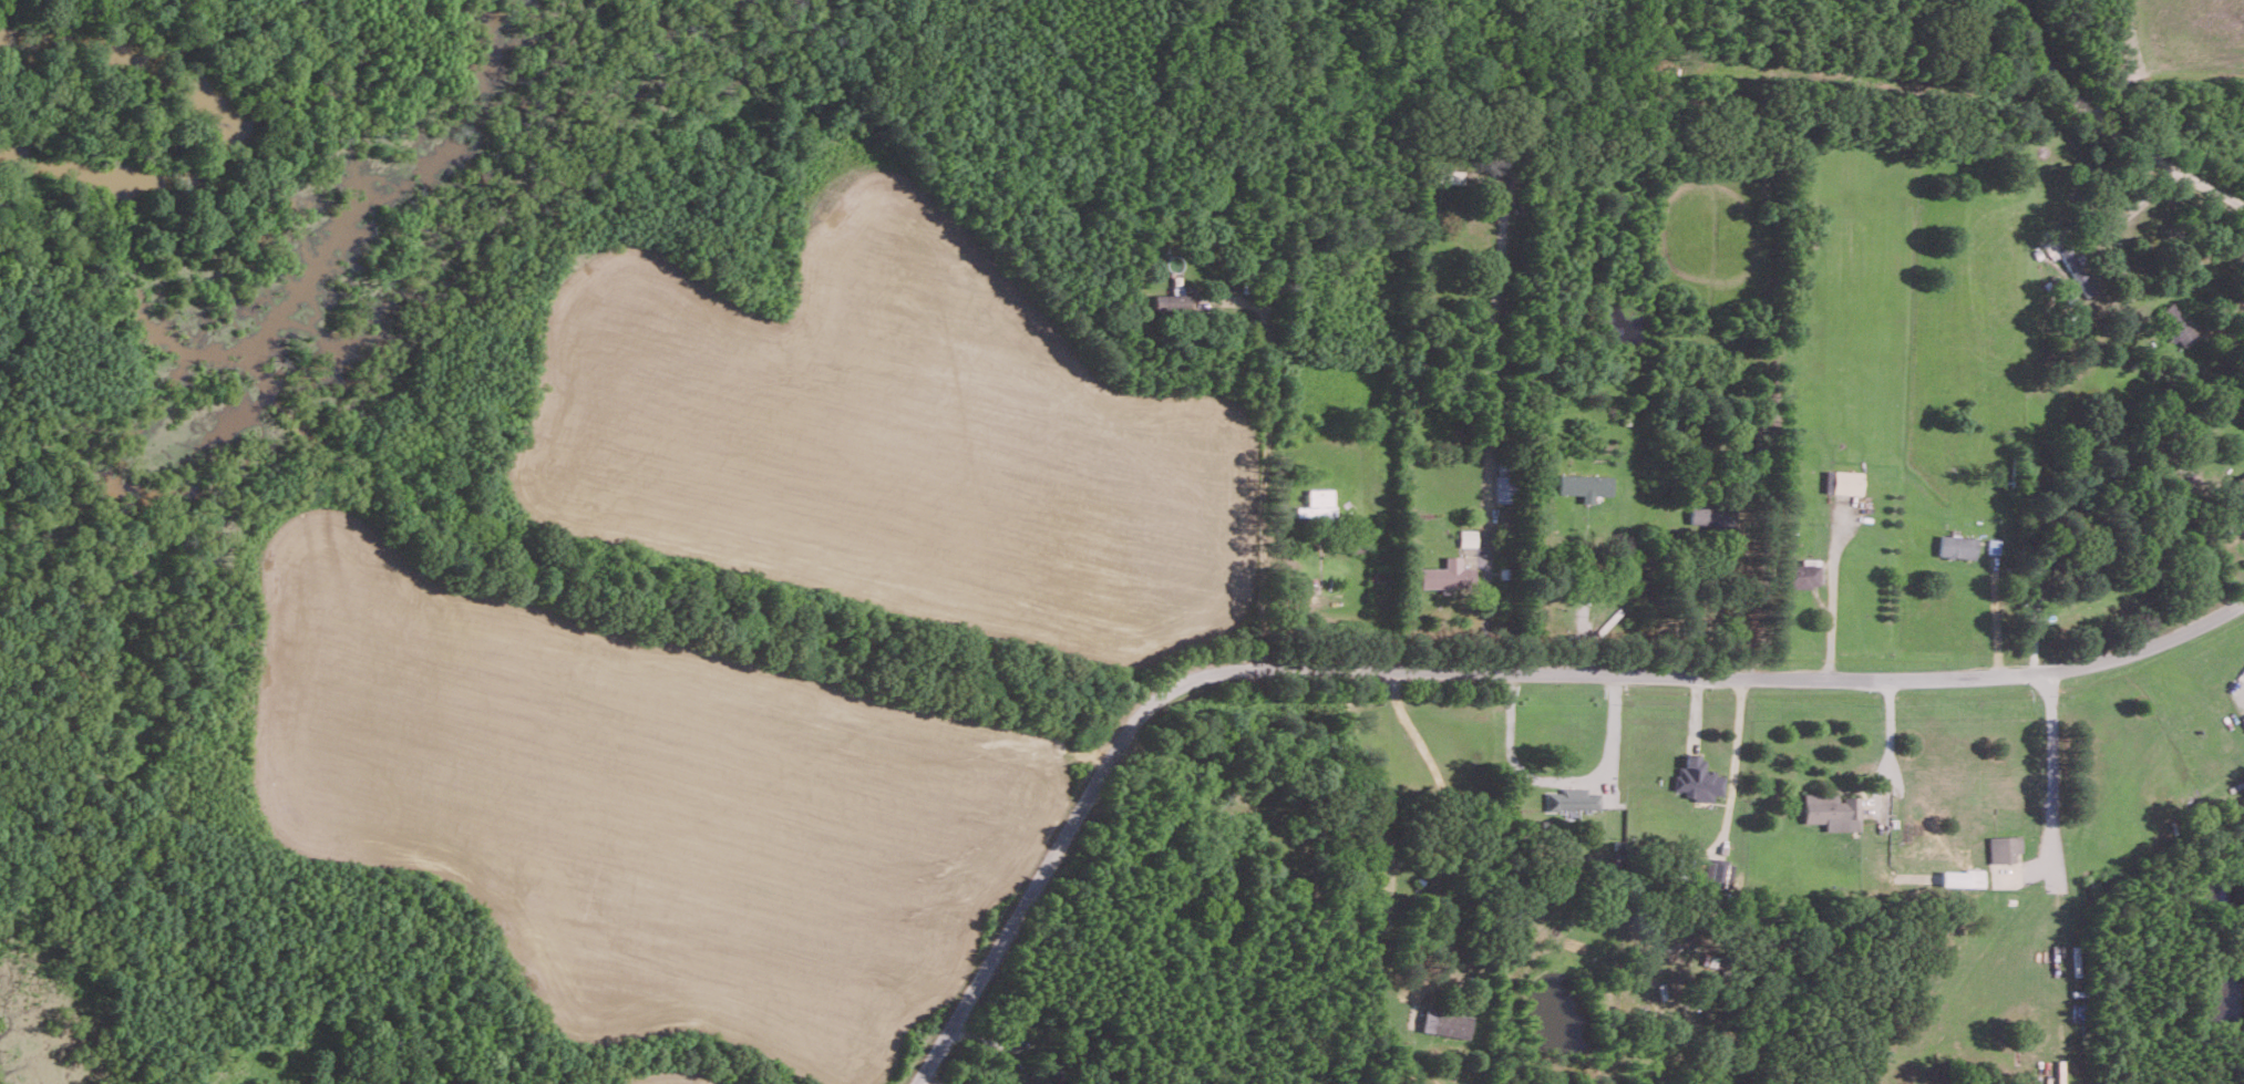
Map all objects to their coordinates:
crop: (2192, 39)
river: (244, 121)
road: (2111, 131)
road: (2135, 208)
building: (2079, 272)
building: (1169, 302)
building: (2176, 323)
road: (1265, 475)
building: (1842, 482)
building: (1504, 483)
building: (1585, 485)
building: (2237, 487)
building: (1317, 505)
building: (1711, 514)
building: (1468, 537)
building: (1956, 546)
building: (1448, 575)
building: (1800, 575)
road: (1995, 620)
road: (1832, 621)
road: (1478, 671)
building: (2243, 715)
road: (1888, 749)
road: (2049, 772)
building: (1697, 778)
road: (1562, 782)
building: (1572, 798)
building: (1831, 811)
road: (1444, 812)
building: (2003, 847)
building: (1717, 870)
building: (1960, 877)
building: (1445, 1023)

